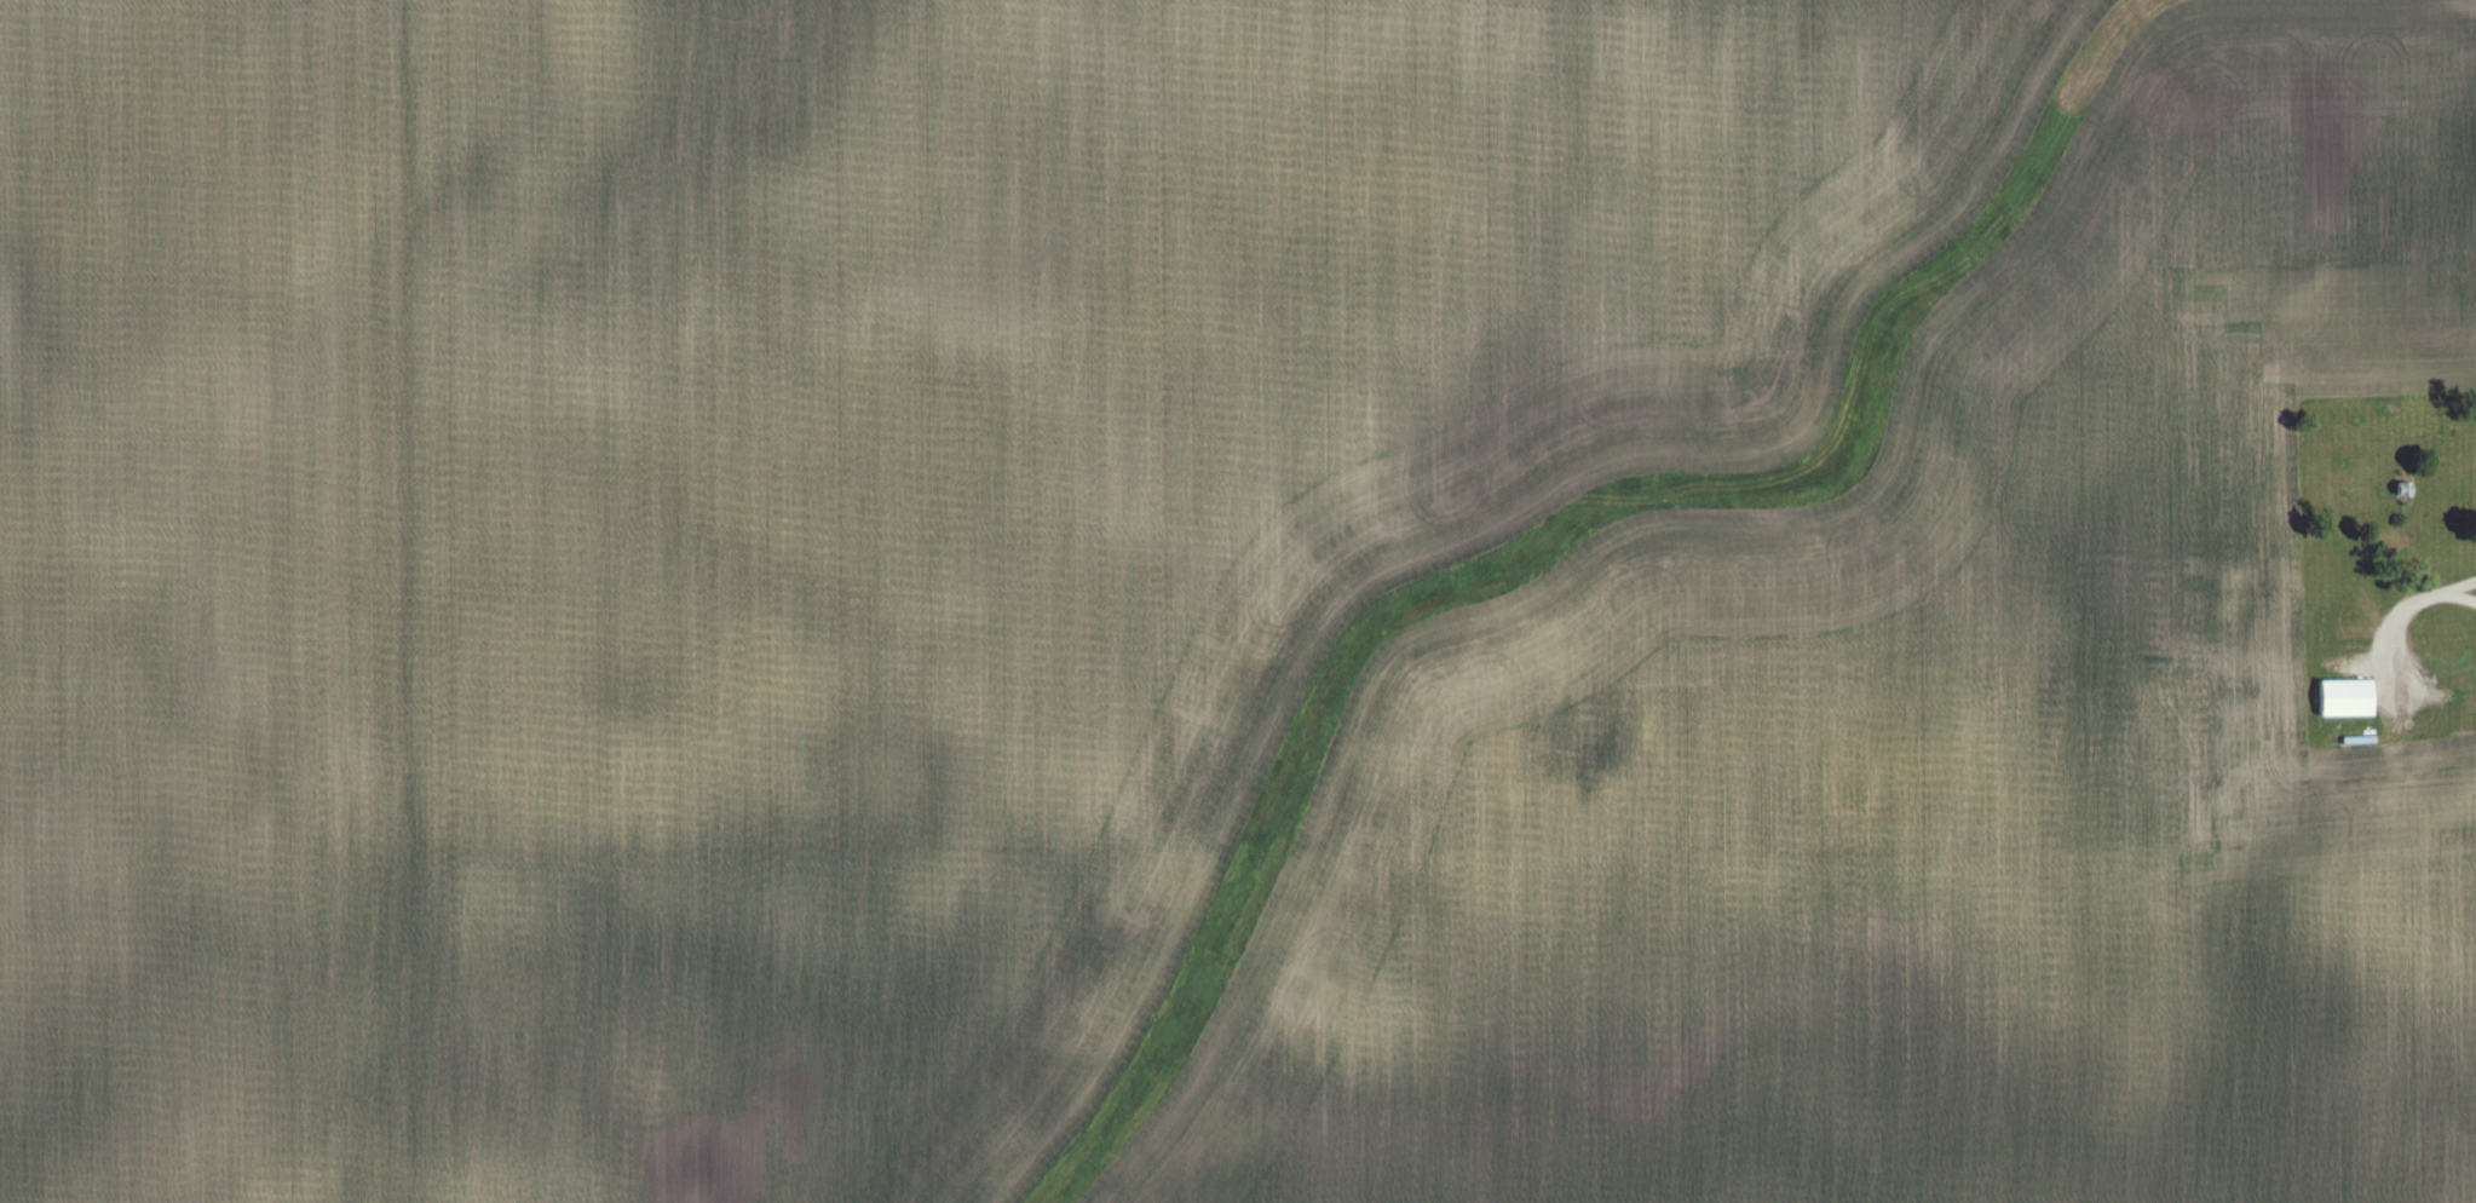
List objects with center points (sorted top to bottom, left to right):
road: (2461, 587)
road: (2415, 604)

